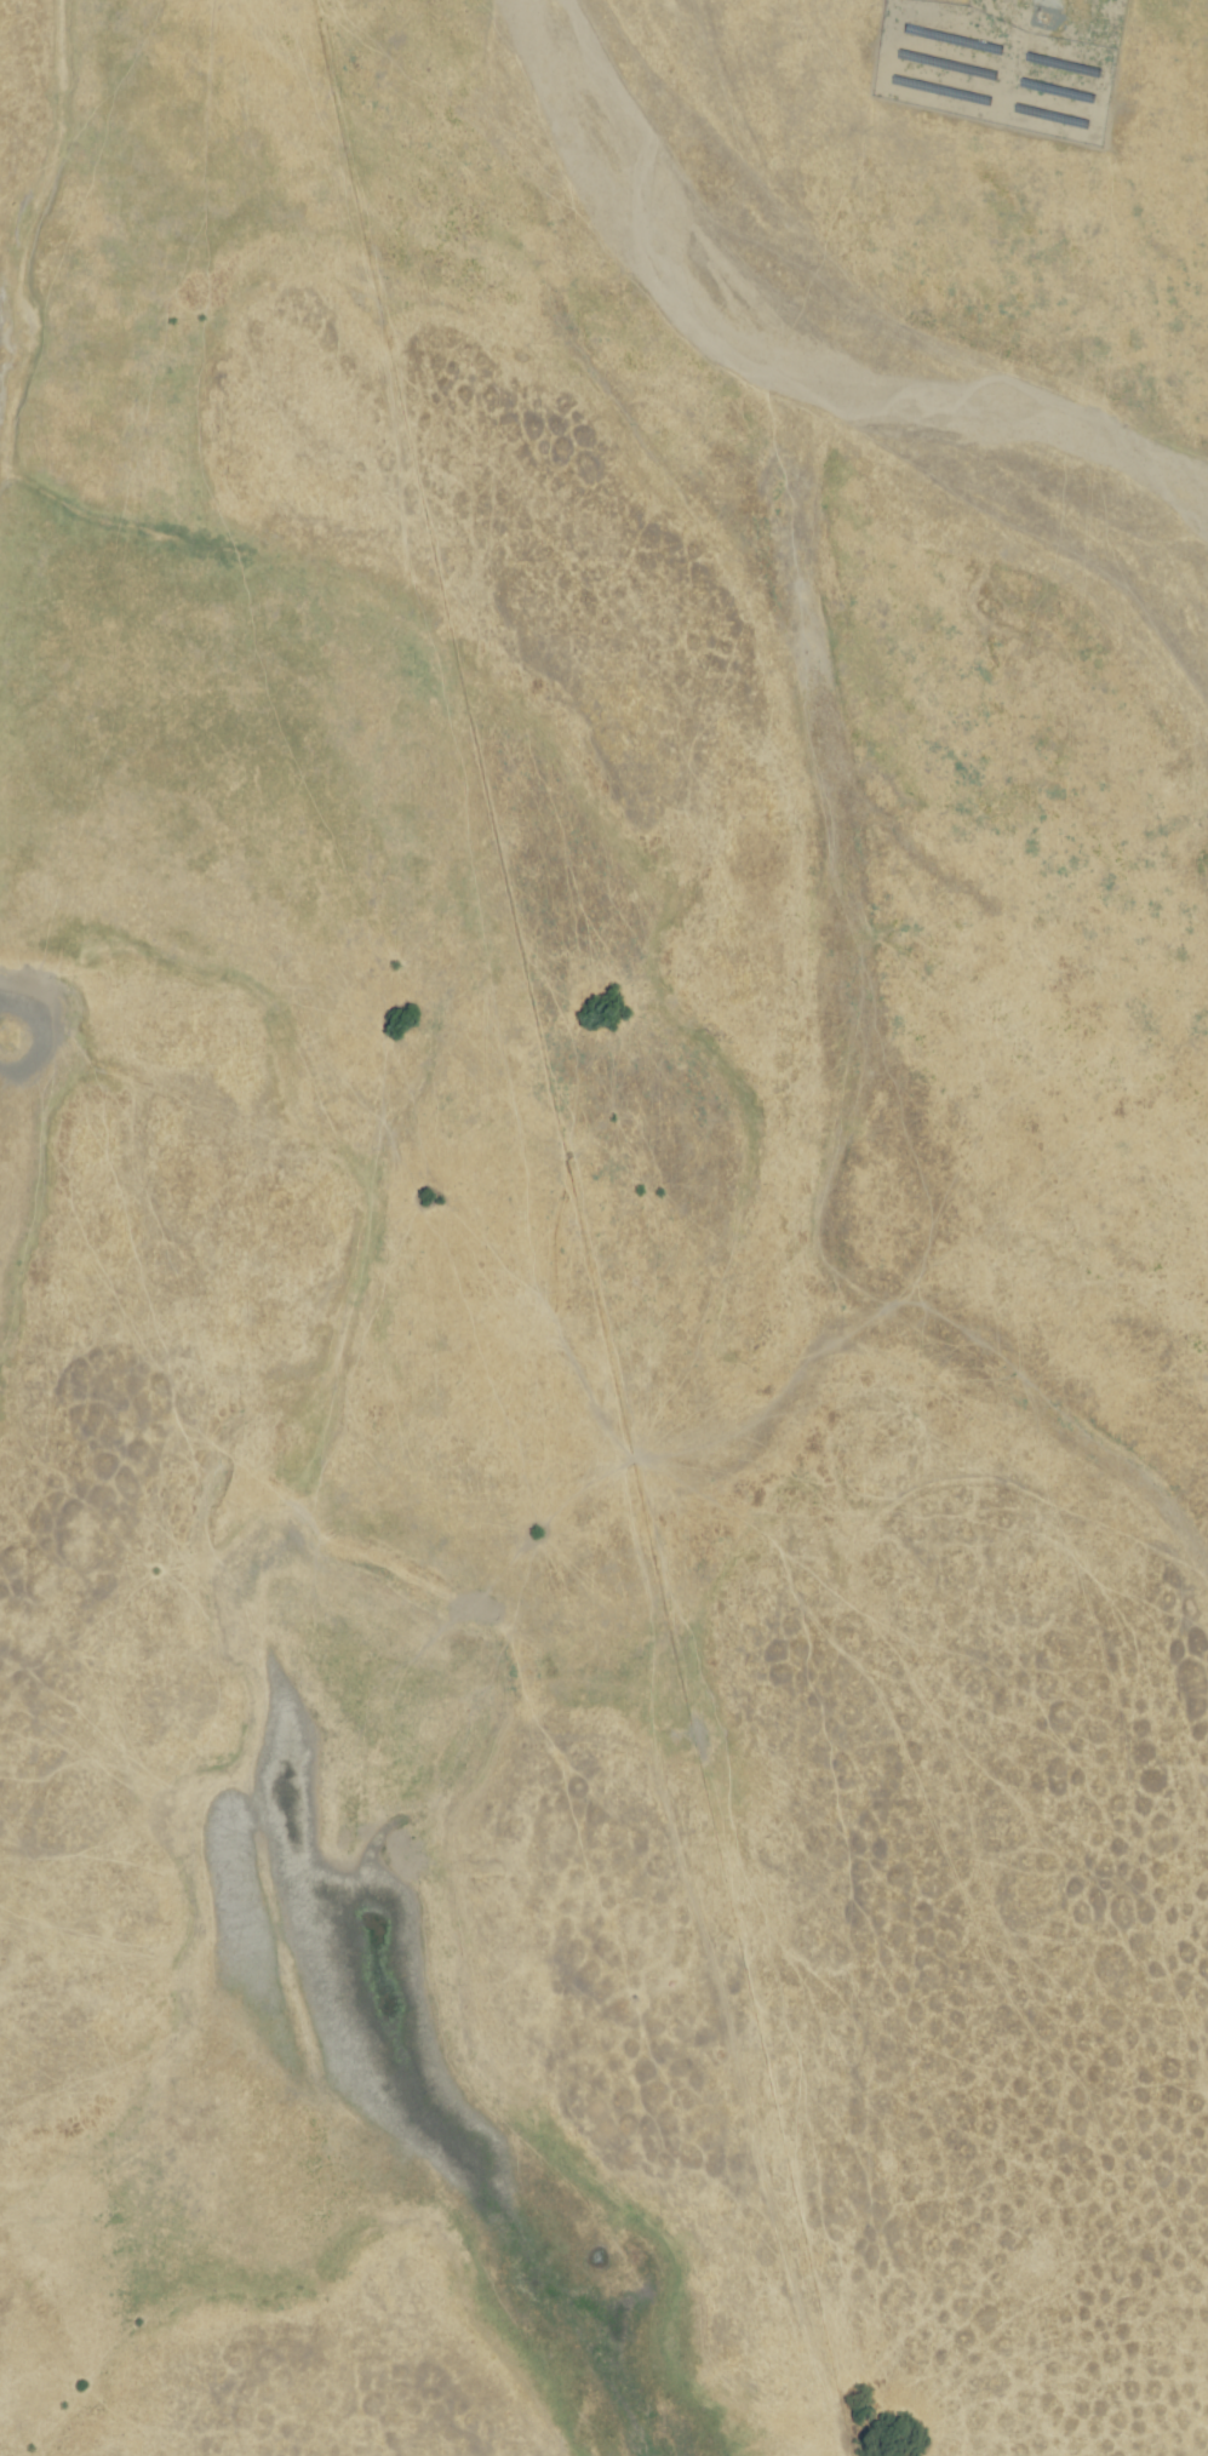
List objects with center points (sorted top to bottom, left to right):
crop: (574, 917)
crop: (199, 1788)
crop: (756, 2019)
crop: (133, 2228)
crop: (509, 2342)

